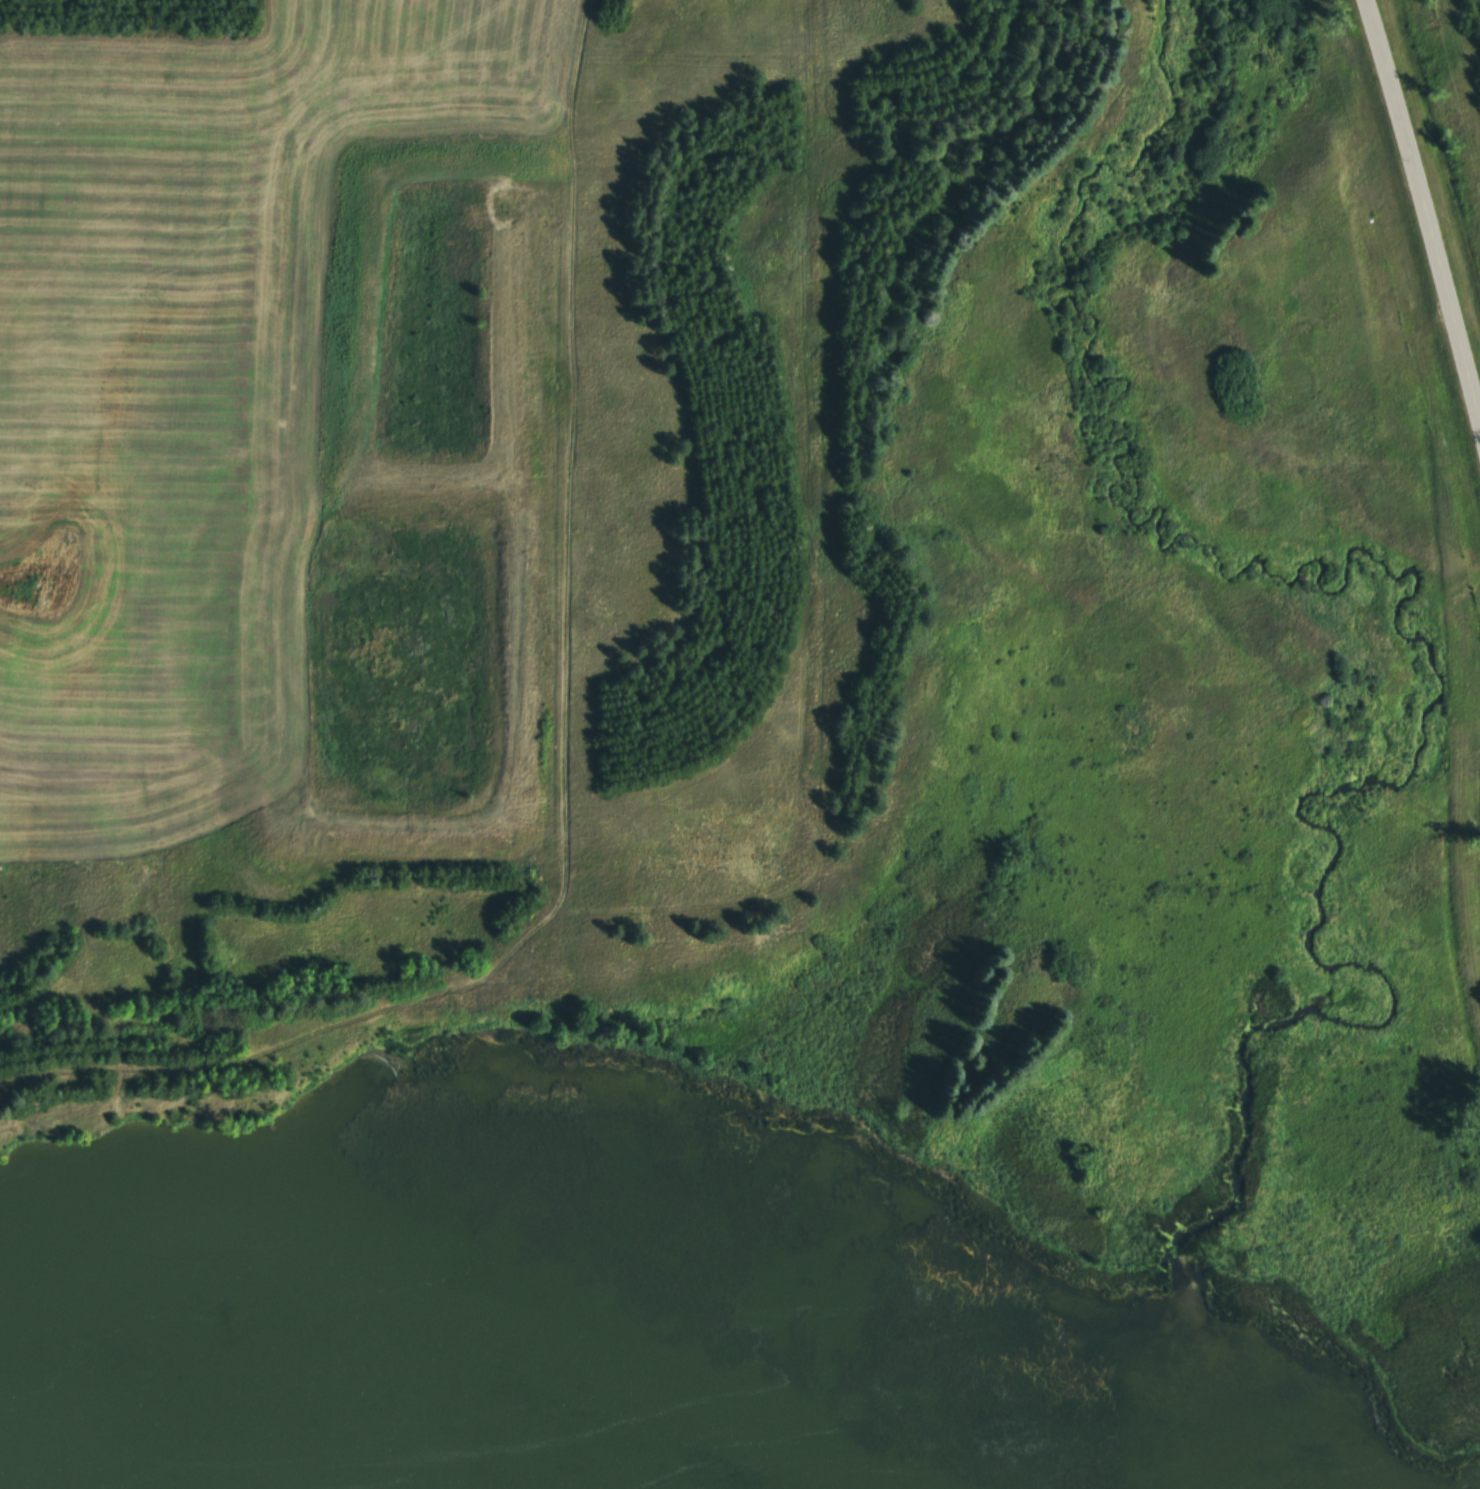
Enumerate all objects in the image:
road: (1429, 198)
river: (1237, 1398)

